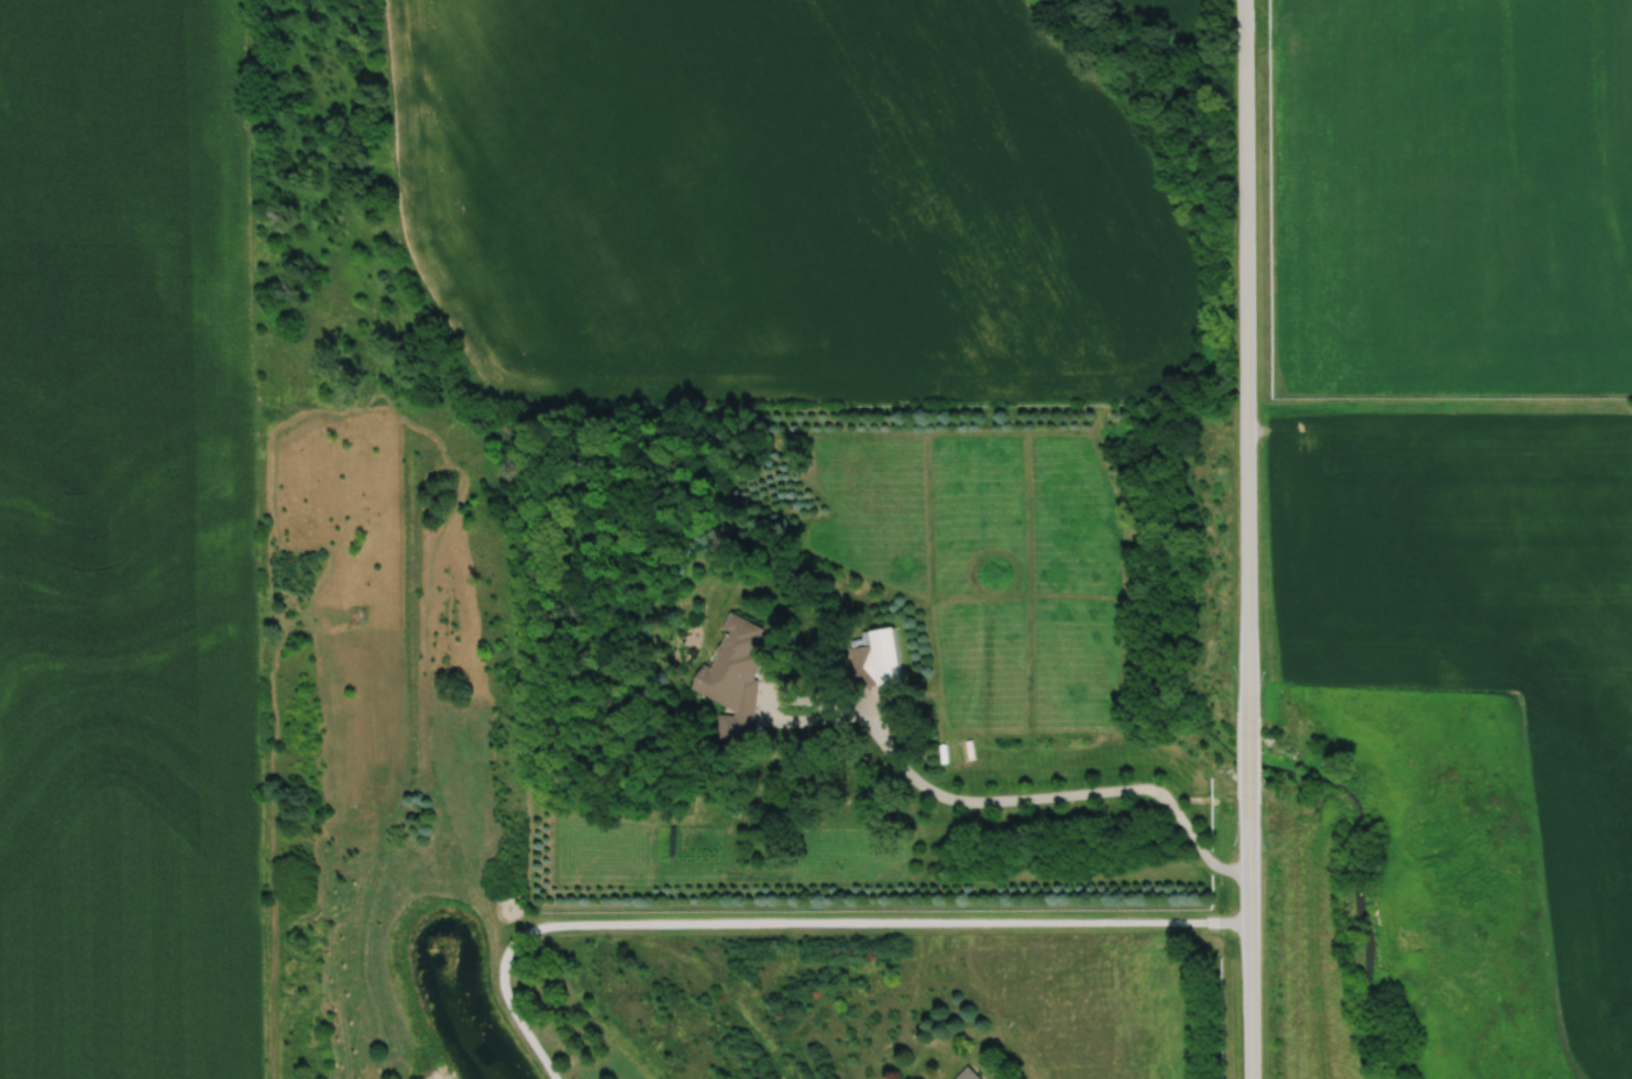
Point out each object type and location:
road: (1244, 359)
building: (876, 660)
building: (735, 680)
road: (1247, 756)
road: (1036, 794)
park: (1408, 893)
road: (801, 923)
road: (1249, 936)
building: (967, 1075)

